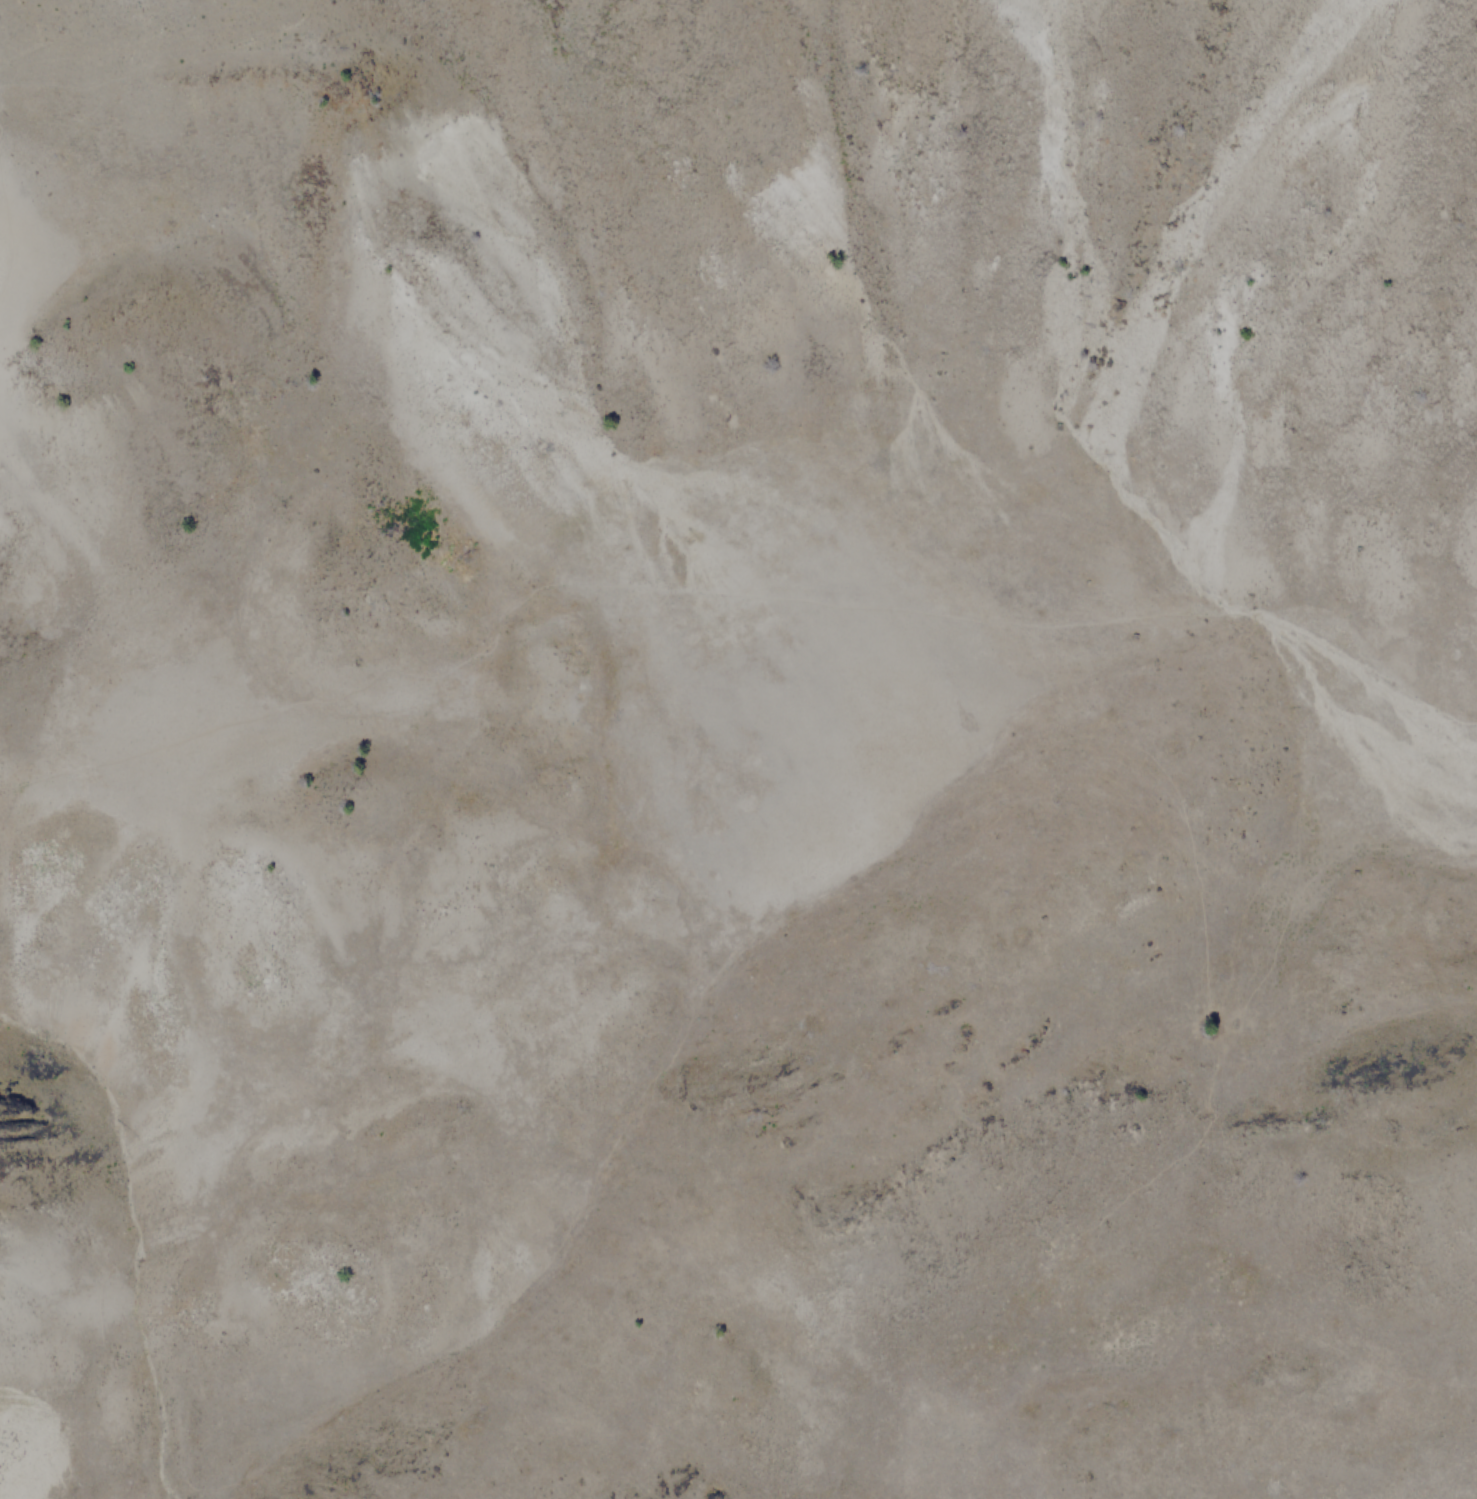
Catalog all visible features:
road: (166, 65)
road: (7, 235)
road: (718, 595)

